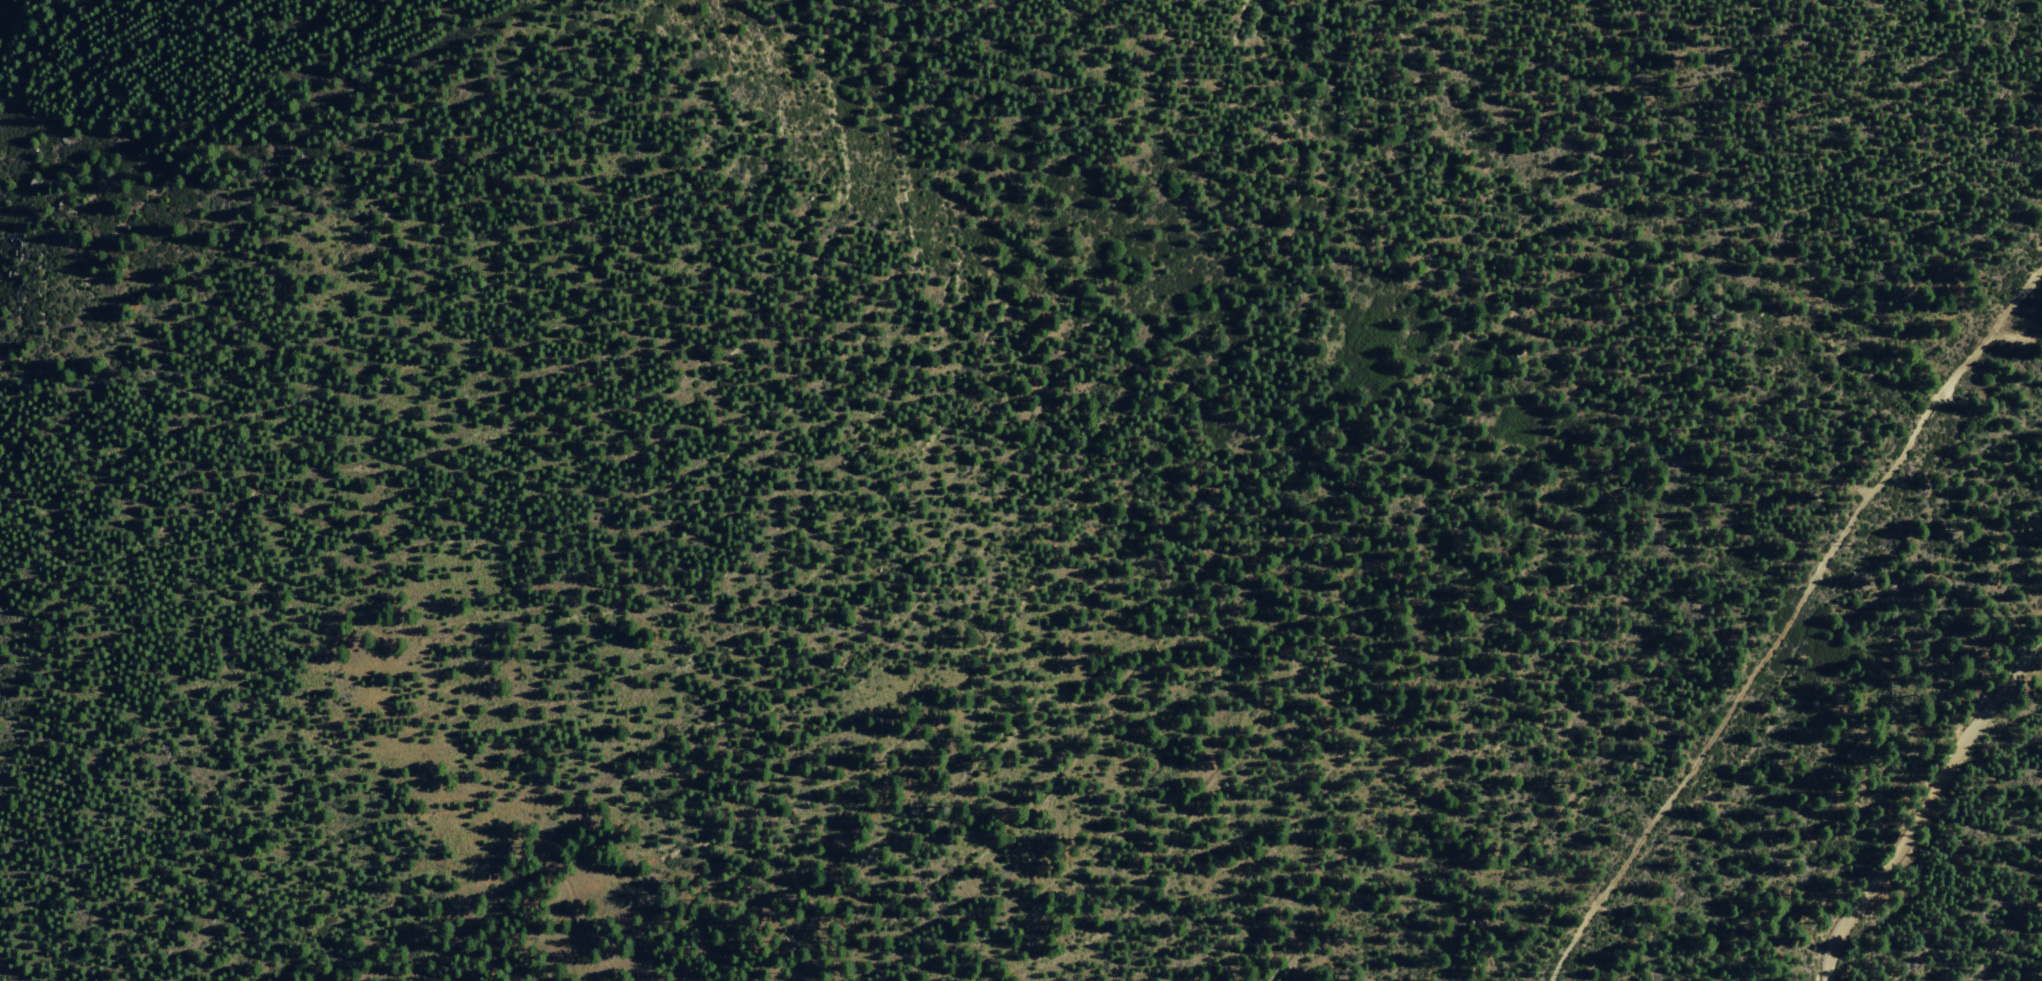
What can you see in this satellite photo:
road: (2017, 297)
power tower: (1846, 543)
road: (1772, 629)
road: (1926, 806)
power tower: (1562, 970)

